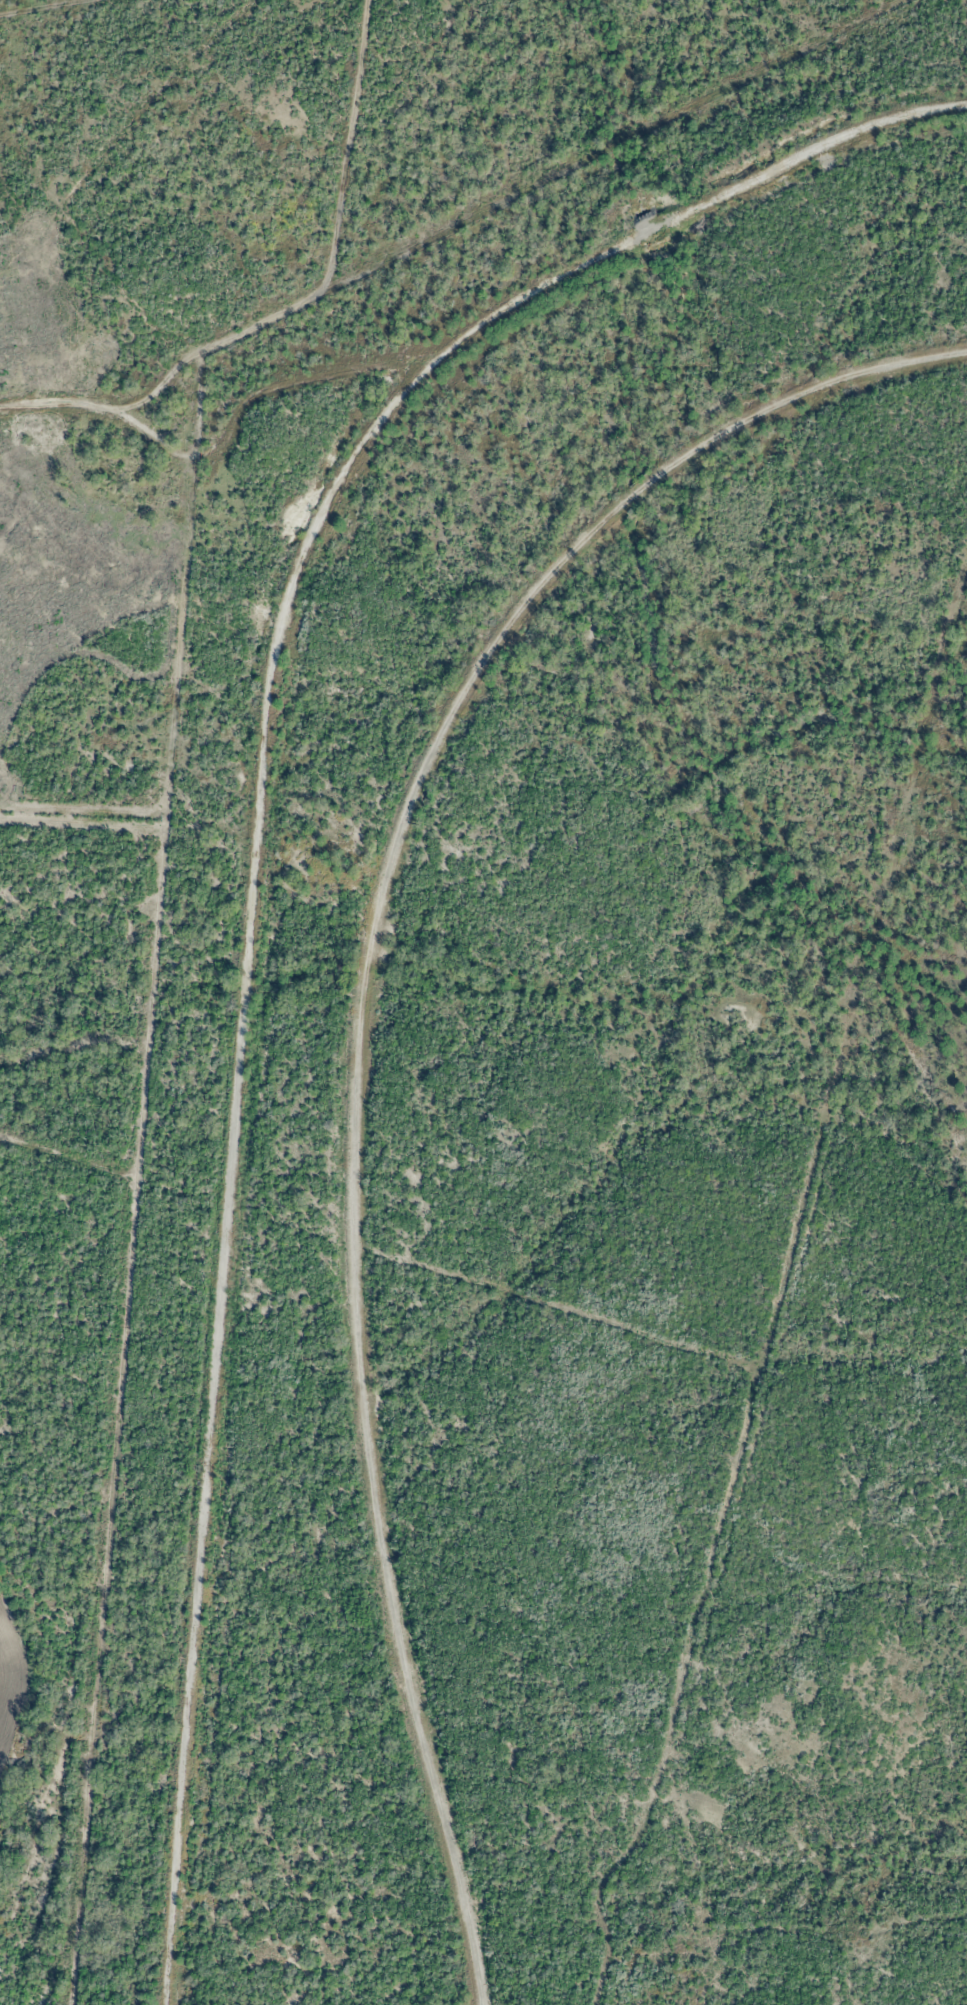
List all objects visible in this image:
road: (266, 852)
road: (356, 1028)

